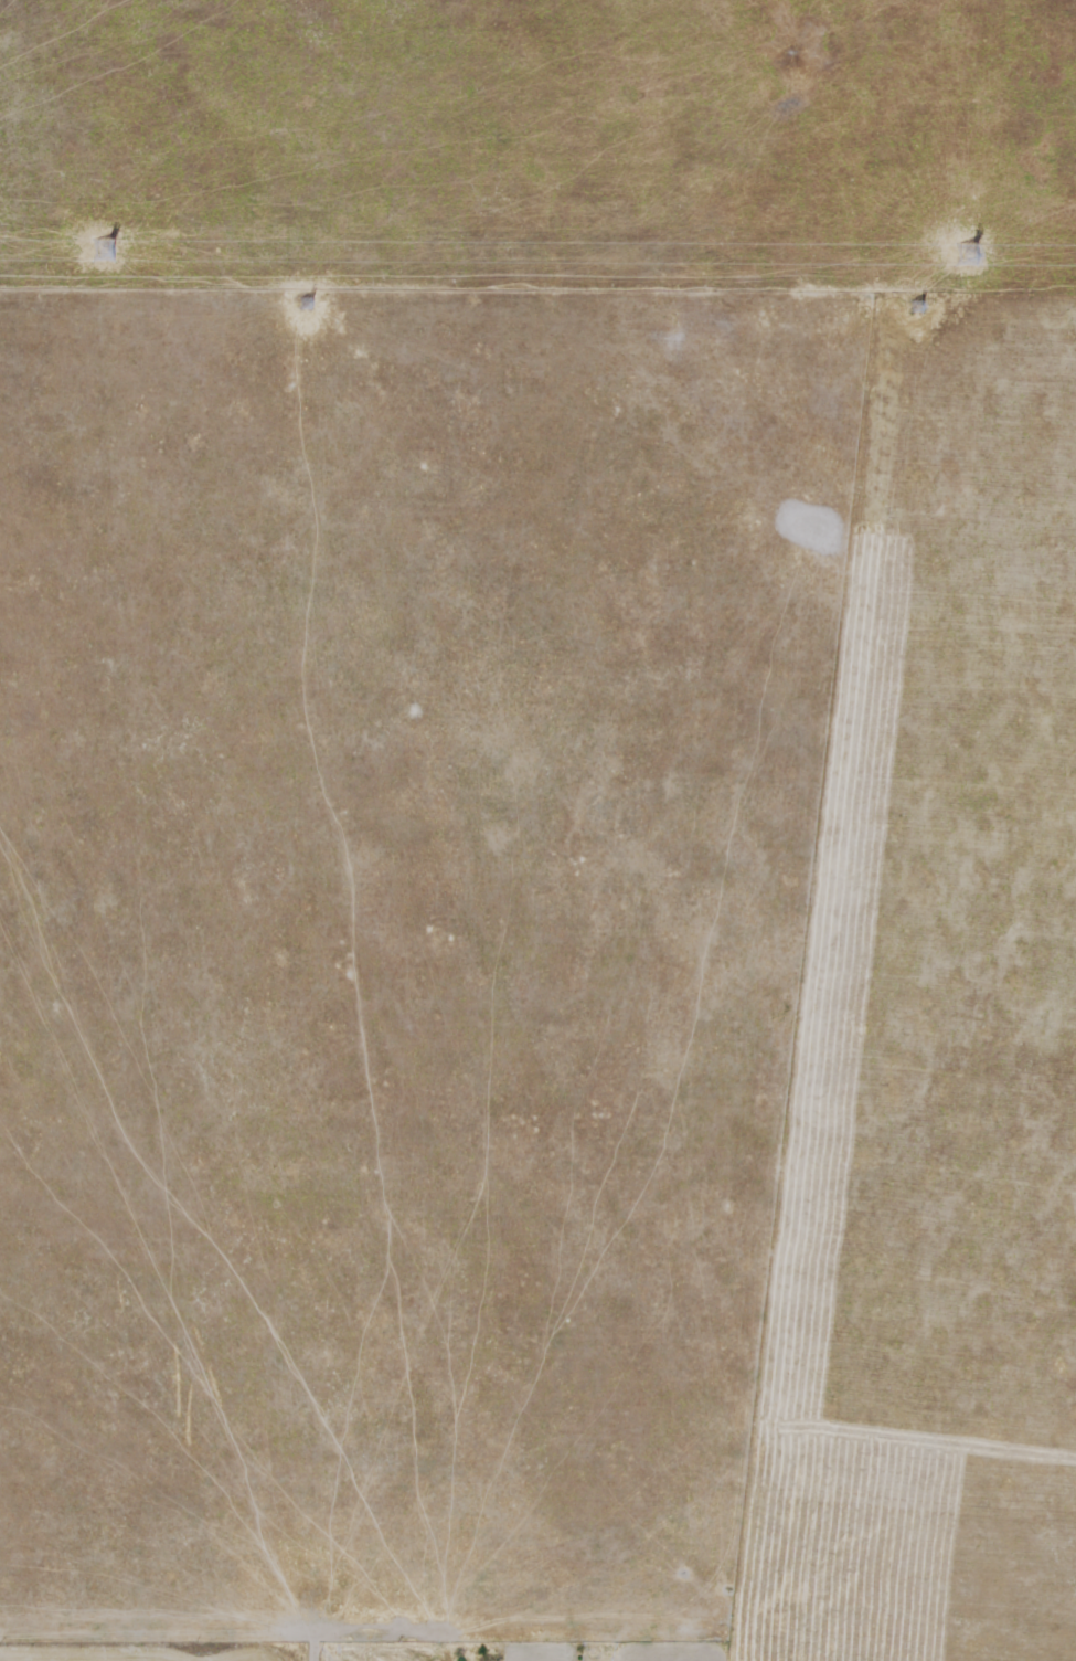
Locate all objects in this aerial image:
solar farm: (540, 146)
power tower: (99, 250)
power tower: (960, 252)
power tower: (305, 301)
power tower: (920, 304)

